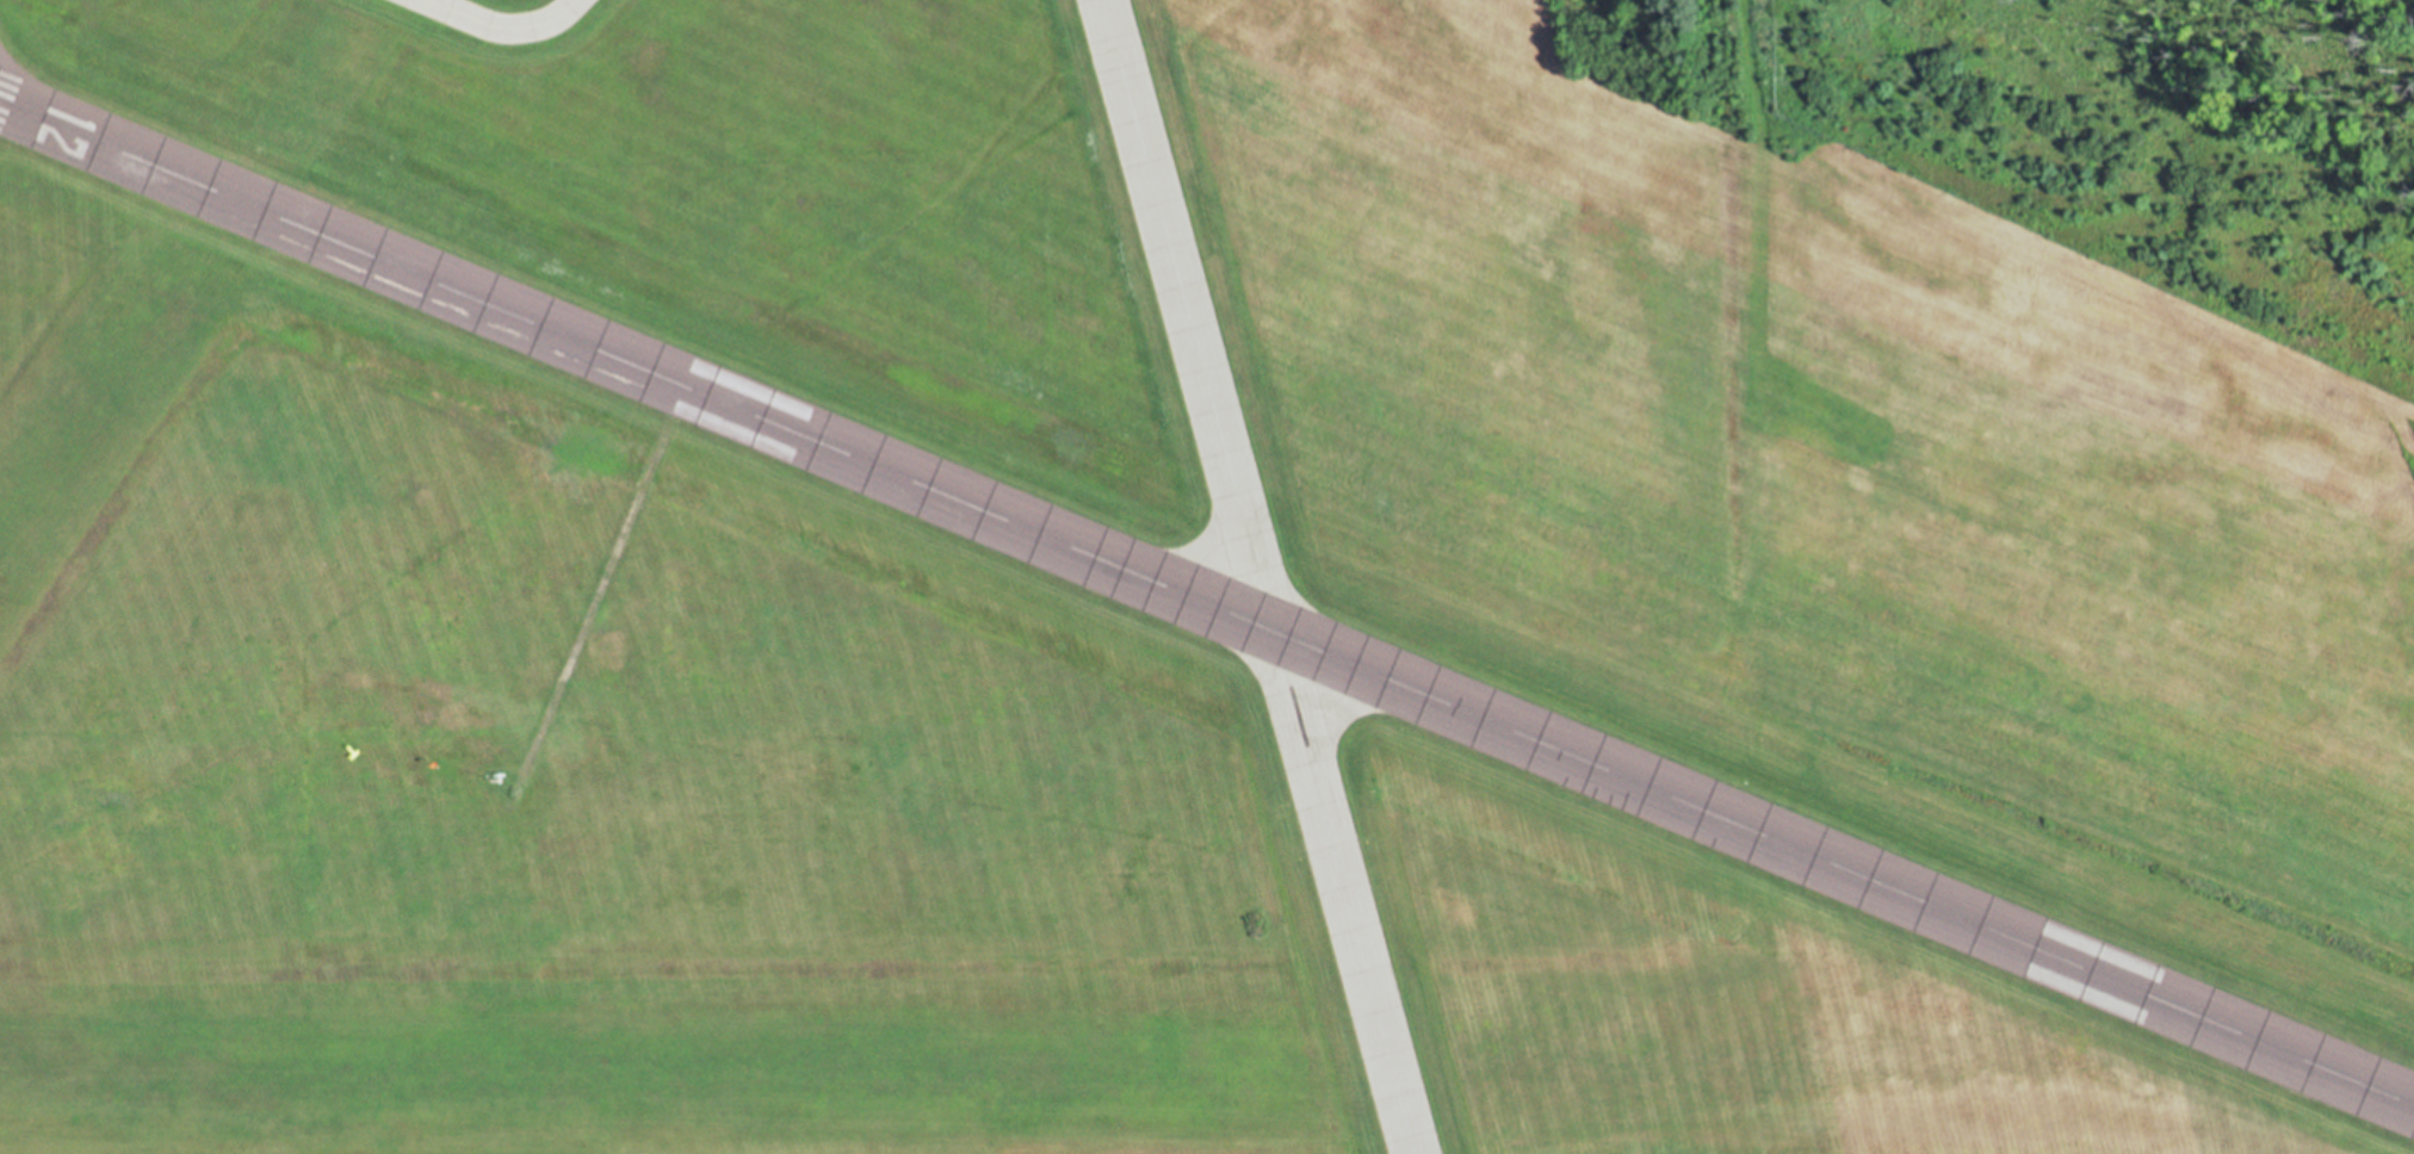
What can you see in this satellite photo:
airport taxiway: (503, 25)
airport runway: (1256, 576)
airport: (1207, 577)
airport runway: (1207, 601)
building: (1395, 1088)

